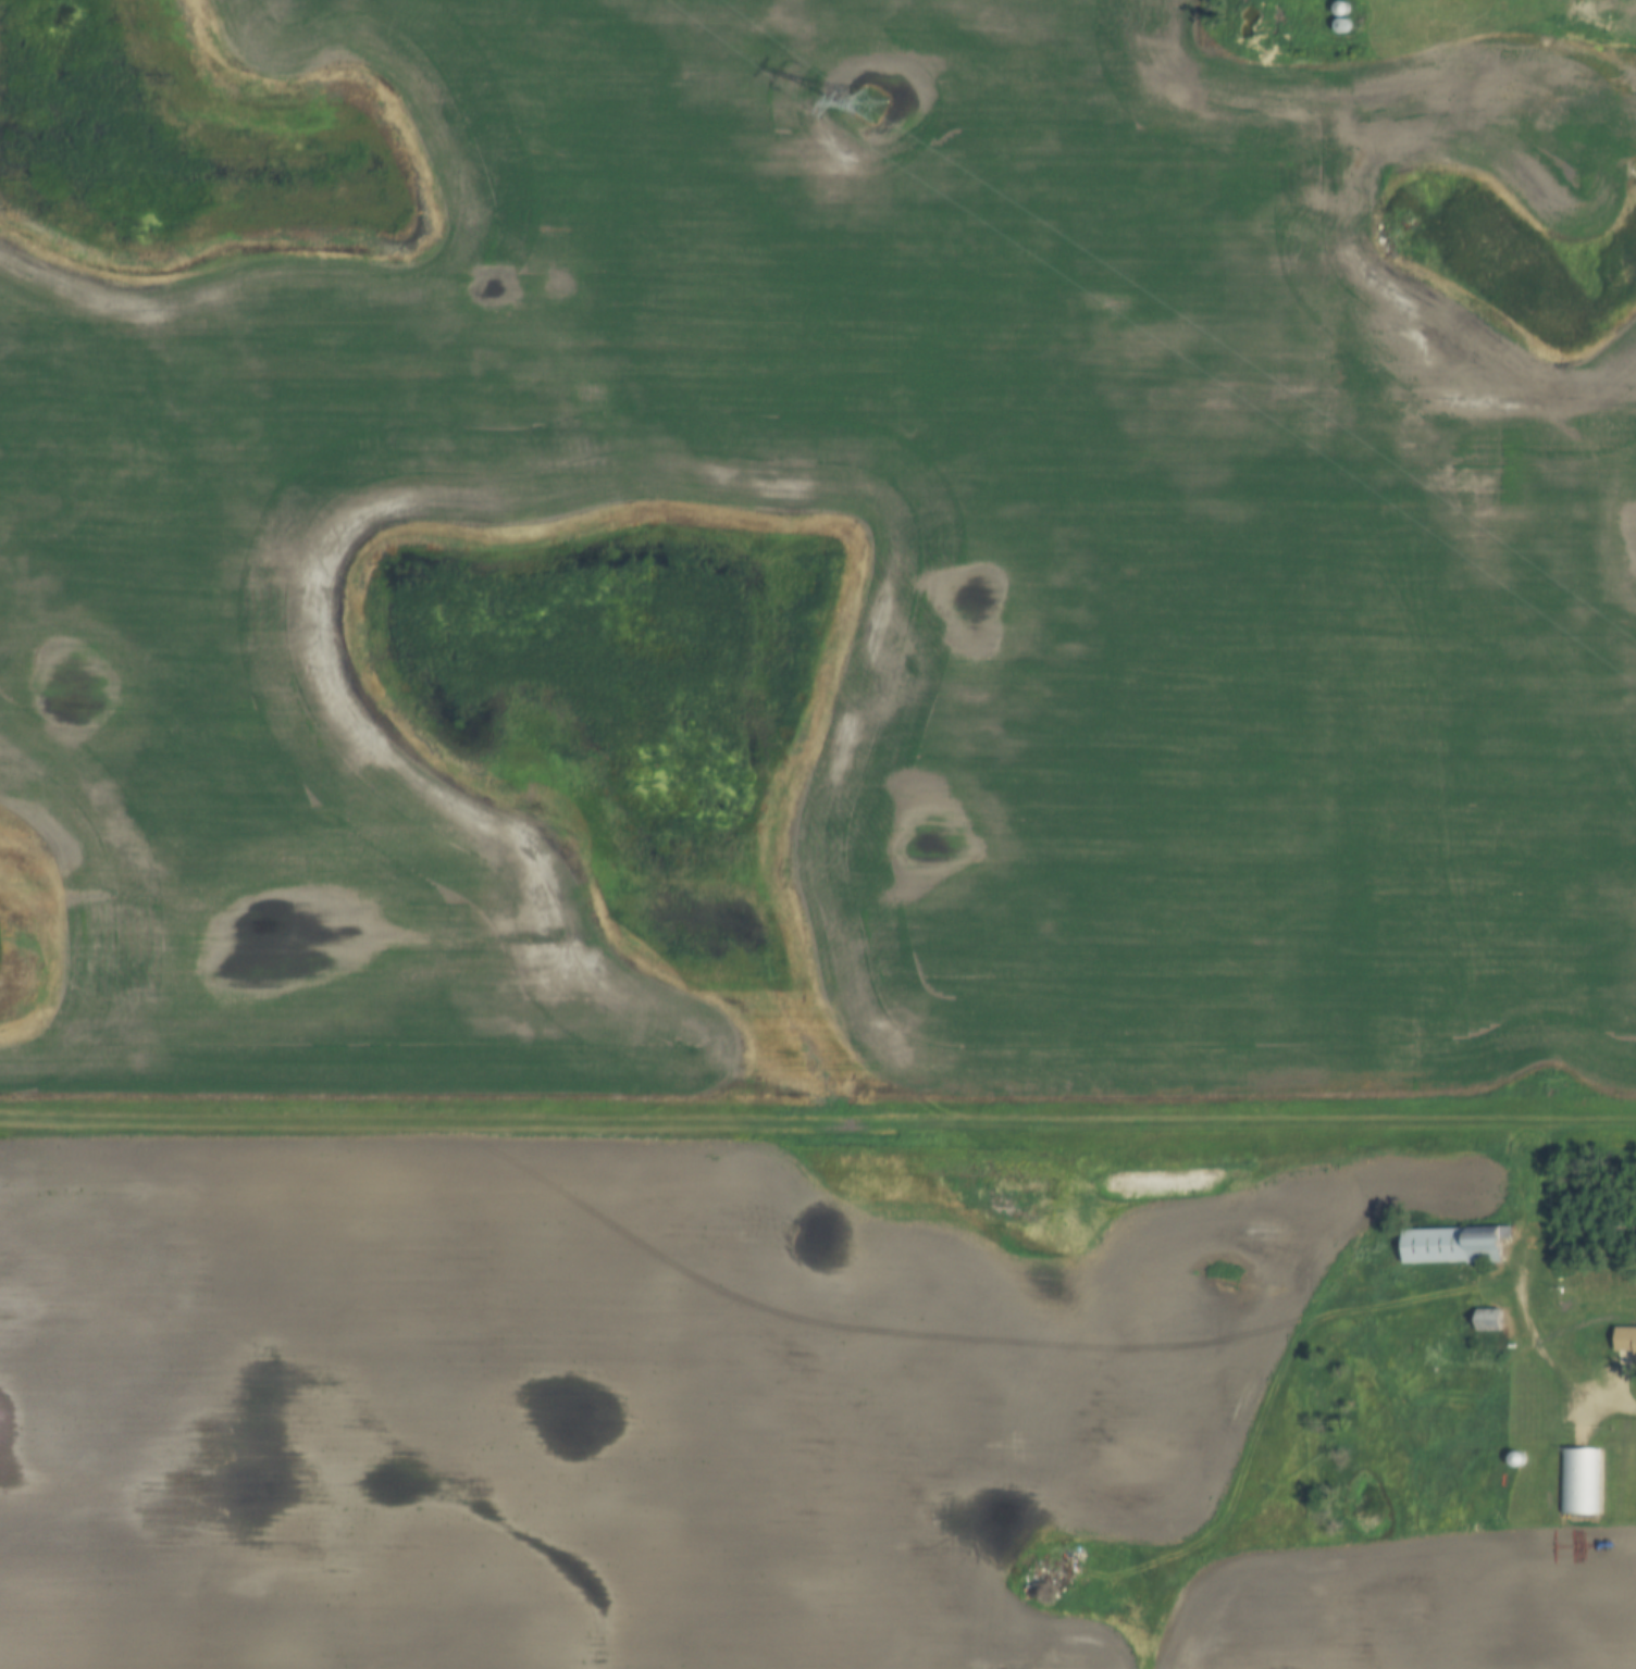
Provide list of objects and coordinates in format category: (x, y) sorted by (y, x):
power tower: (871, 104)
road: (818, 1122)
building: (1452, 1246)
building: (1488, 1320)
building: (1625, 1345)
road: (1550, 1358)
building: (1576, 1482)

